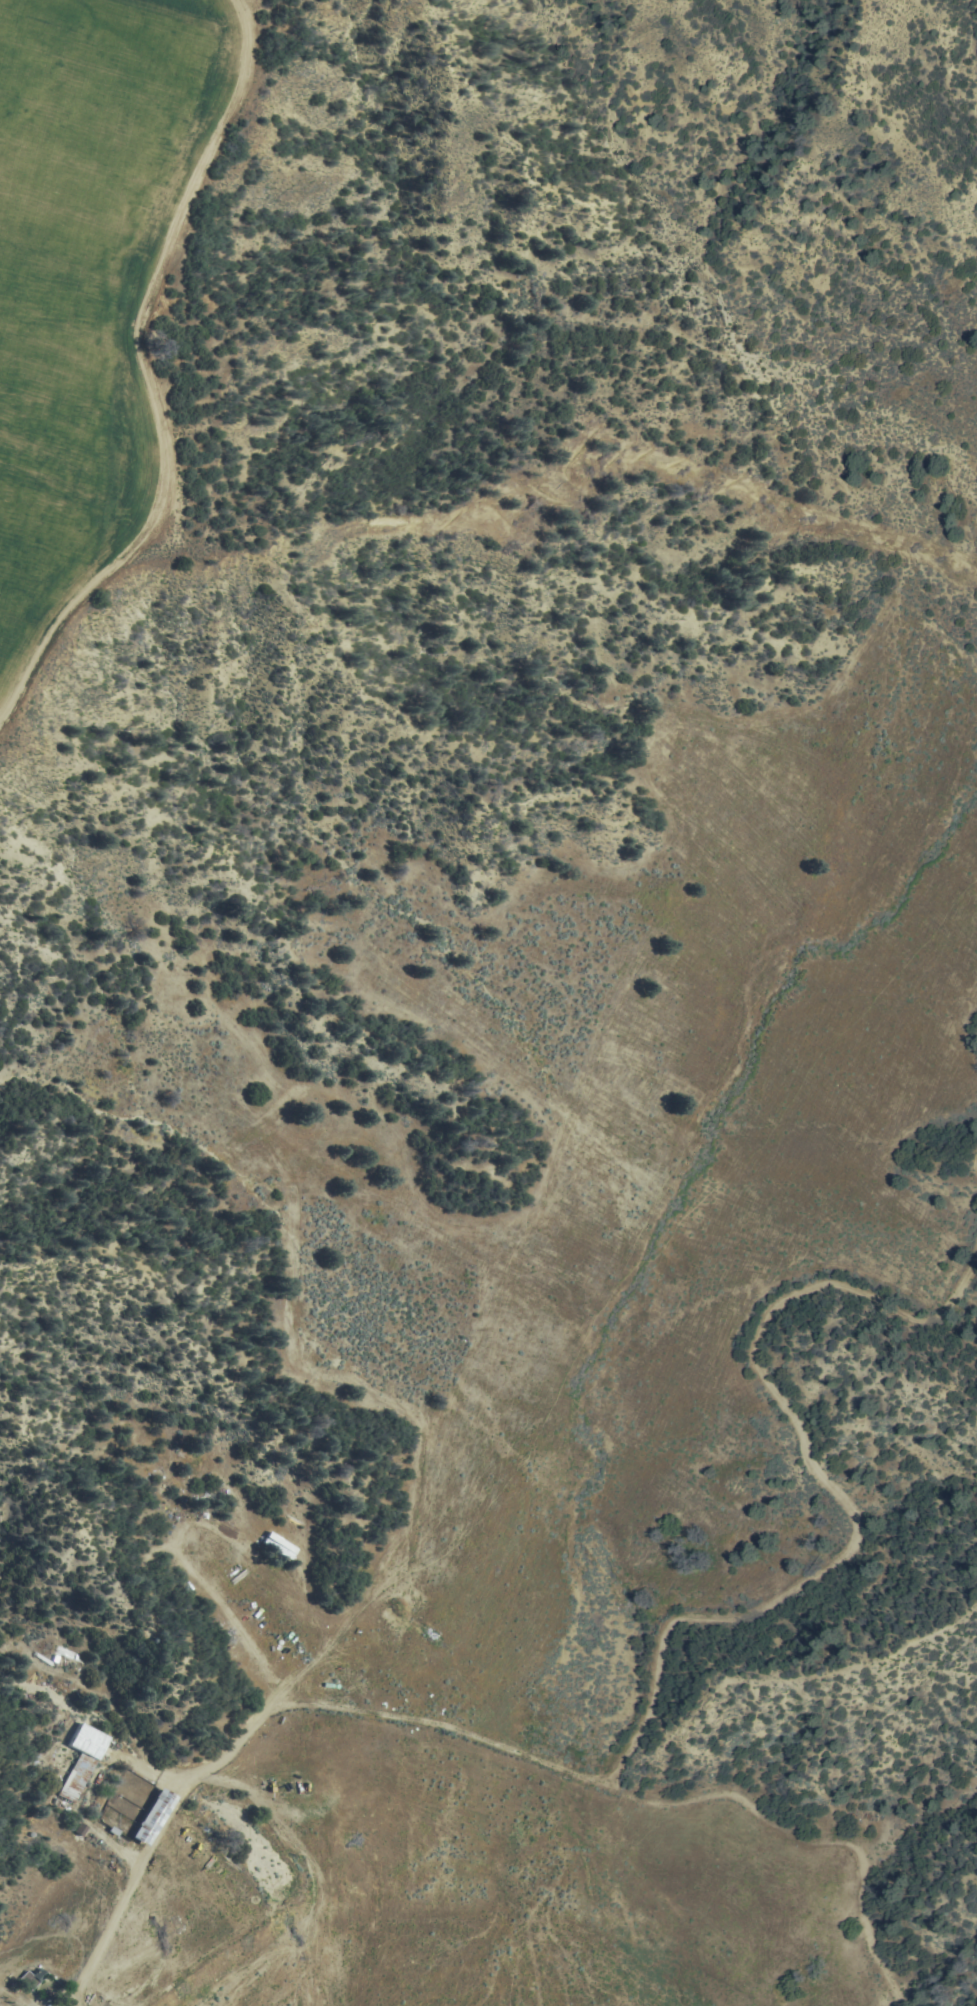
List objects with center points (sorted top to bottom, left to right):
building: (89, 1740)
building: (76, 1776)
building: (155, 1816)

